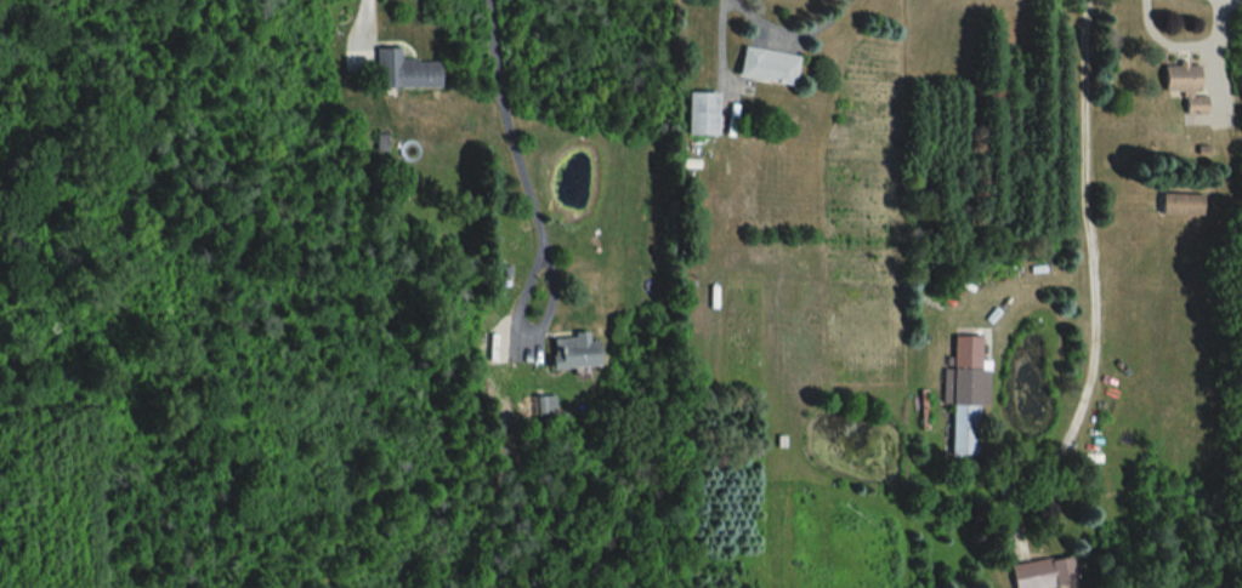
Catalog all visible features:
road: (367, 16)
road: (789, 33)
road: (1184, 46)
building: (765, 67)
building: (408, 72)
building: (1184, 86)
building: (699, 114)
road: (507, 130)
building: (1179, 205)
road: (1090, 234)
road: (524, 335)
building: (571, 352)
building: (964, 394)
building: (1043, 575)

